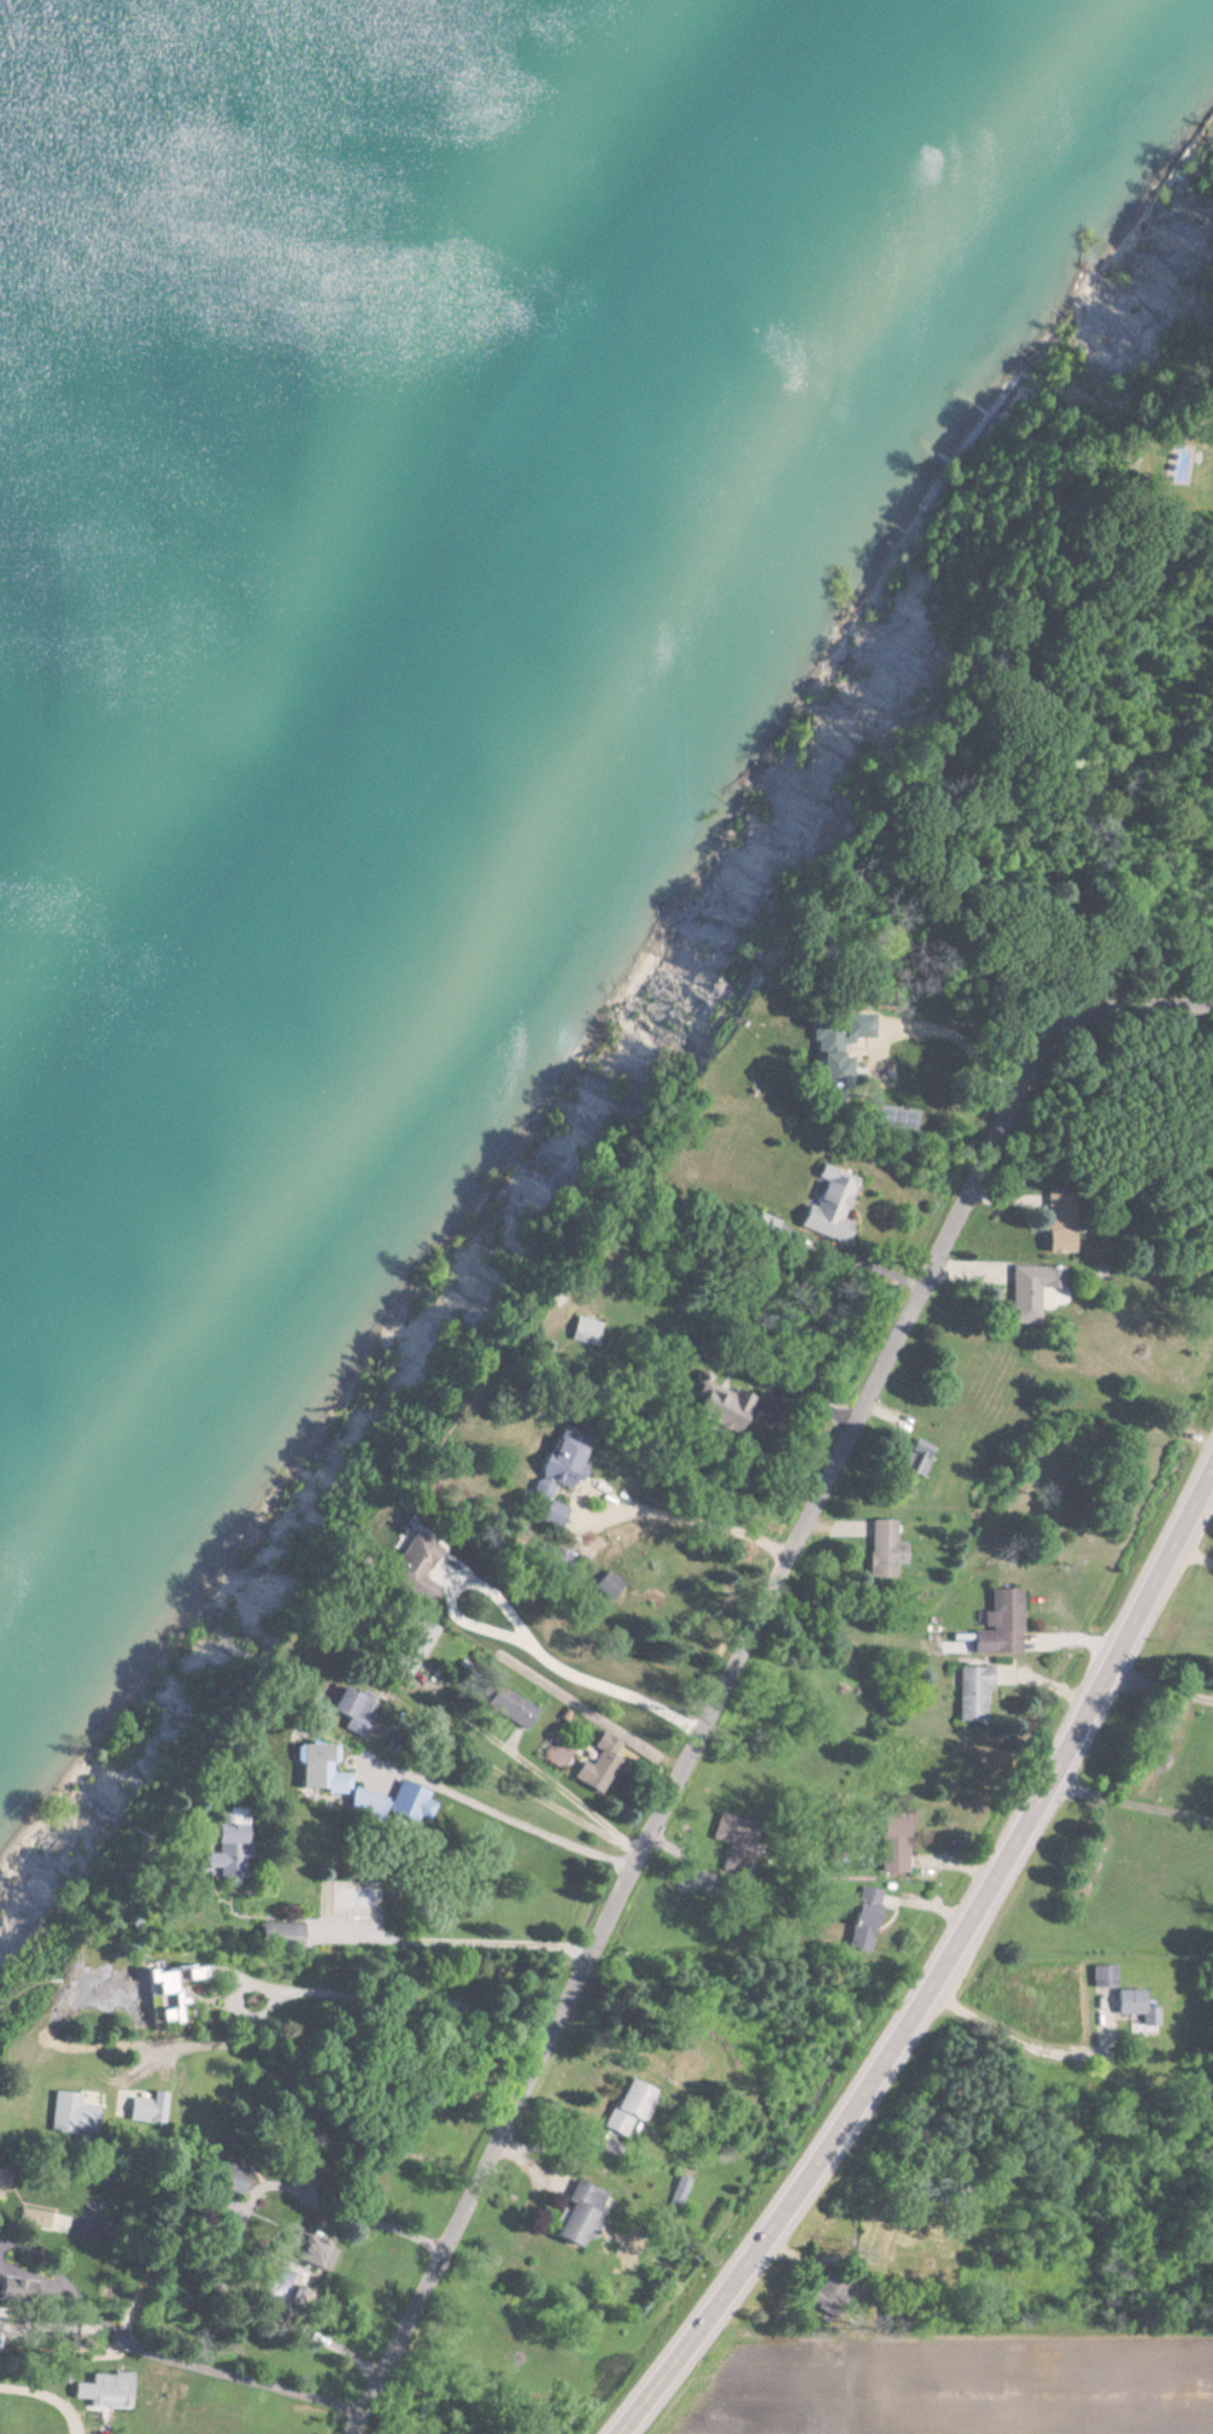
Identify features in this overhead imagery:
building: (830, 1047)
building: (826, 1205)
building: (762, 1223)
building: (1057, 1240)
road: (862, 1264)
building: (1030, 1291)
building: (579, 1330)
road: (803, 1398)
building: (716, 1405)
building: (913, 1457)
building: (552, 1467)
building: (546, 1513)
road: (698, 1516)
building: (883, 1549)
building: (410, 1567)
building: (605, 1585)
building: (997, 1623)
road: (527, 1636)
building: (409, 1643)
road: (744, 1662)
building: (971, 1692)
building: (508, 1705)
building: (347, 1709)
building: (597, 1765)
building: (317, 1768)
building: (409, 1802)
road: (528, 1802)
building: (363, 1803)
road: (1131, 1804)
building: (732, 1841)
building: (890, 1843)
building: (222, 1850)
building: (860, 1918)
building: (279, 1935)
road: (440, 1961)
road: (943, 1971)
building: (1101, 1976)
building: (165, 1988)
road: (357, 1995)
building: (1133, 2006)
road: (1020, 2043)
road: (321, 2070)
building: (627, 2106)
building: (147, 2108)
building: (70, 2113)
building: (225, 2181)
building: (676, 2190)
building: (573, 2213)
building: (30, 2218)
road: (367, 2219)
building: (305, 2251)
building: (14, 2290)
building: (828, 2294)
road: (201, 2369)
building: (101, 2391)
road: (49, 2393)

